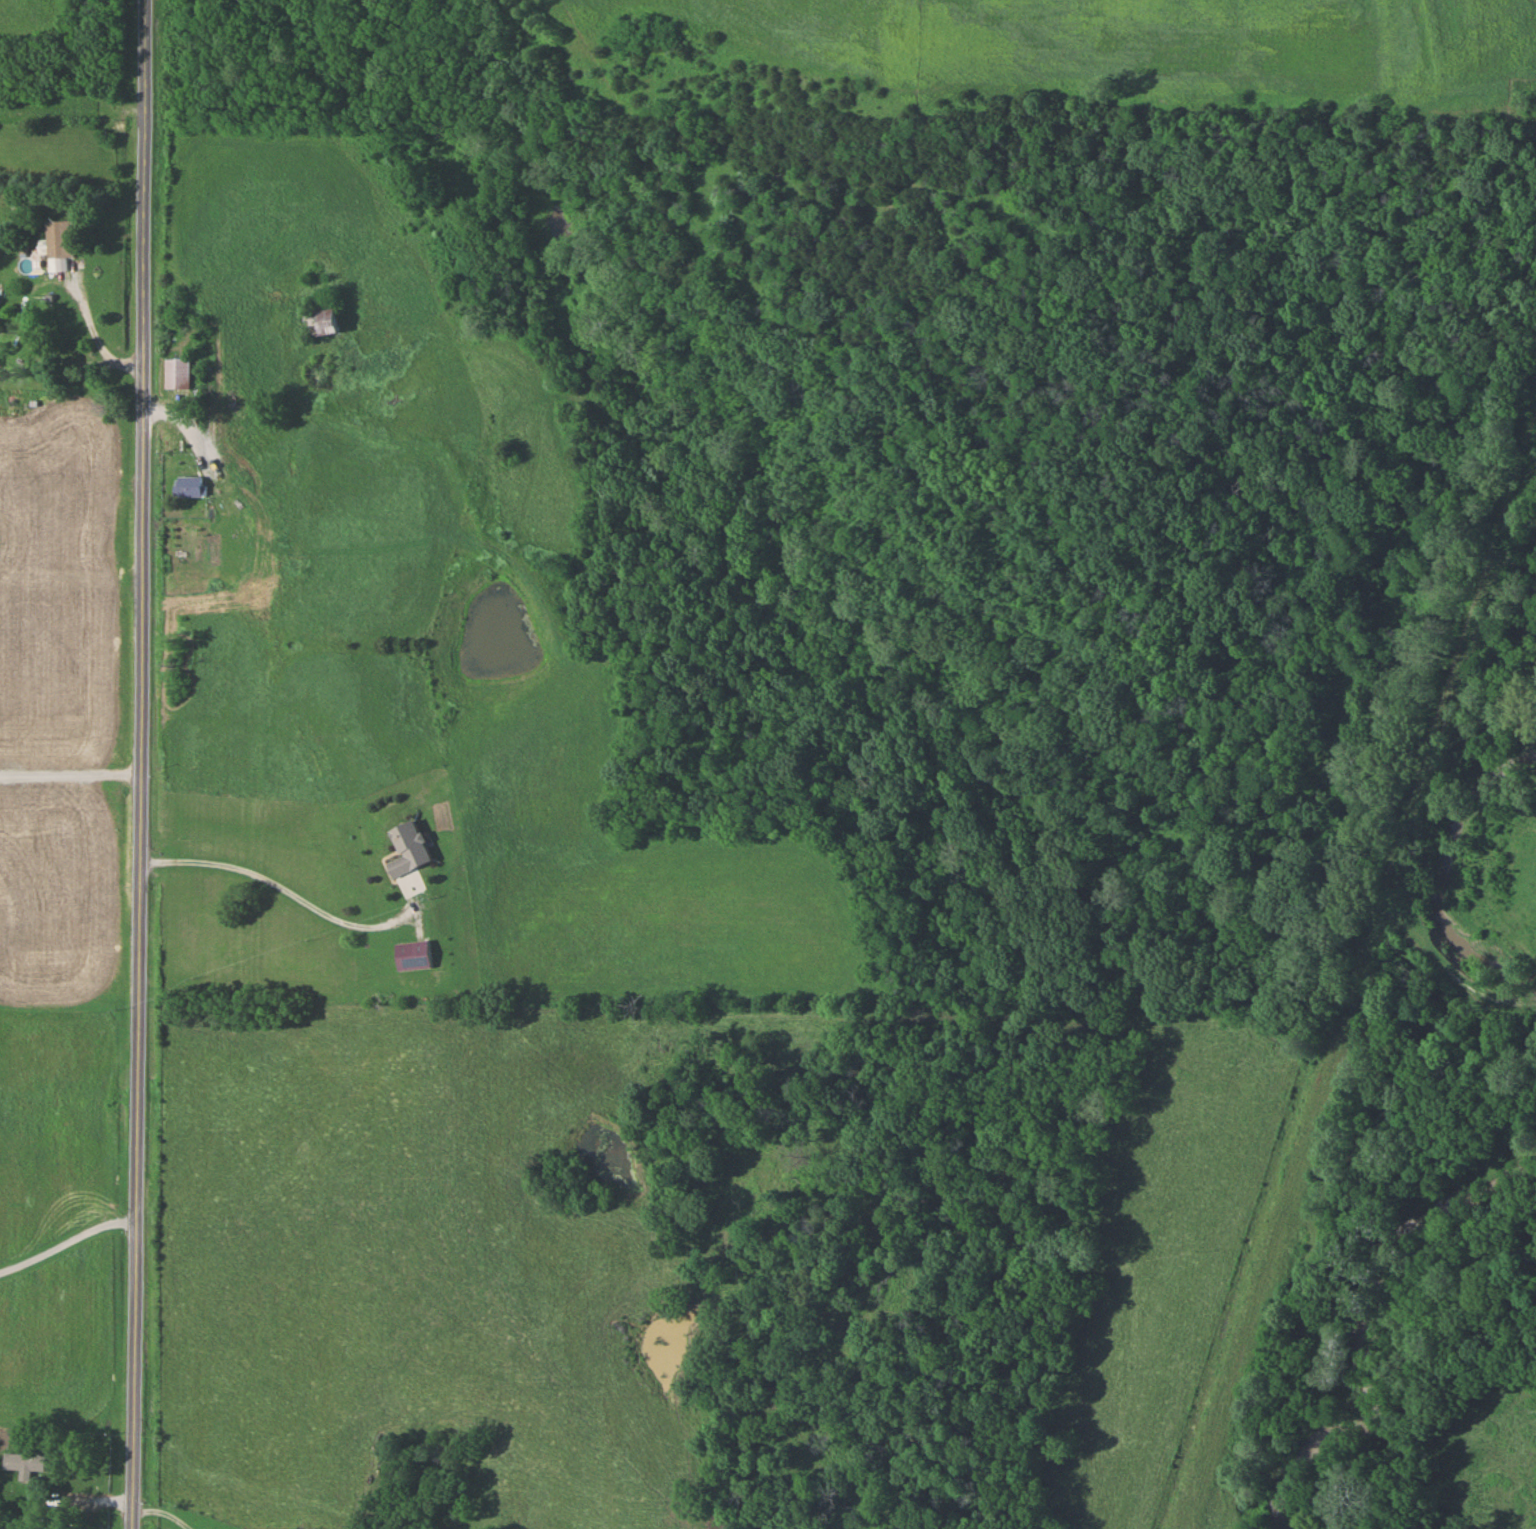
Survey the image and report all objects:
building: (58, 243)
road: (78, 277)
building: (323, 320)
building: (177, 373)
road: (84, 485)
building: (190, 486)
road: (72, 580)
road: (145, 764)
road: (80, 777)
building: (408, 849)
road: (76, 928)
building: (413, 956)
road: (68, 1241)
building: (26, 1464)
road: (77, 1499)
road: (165, 1512)

